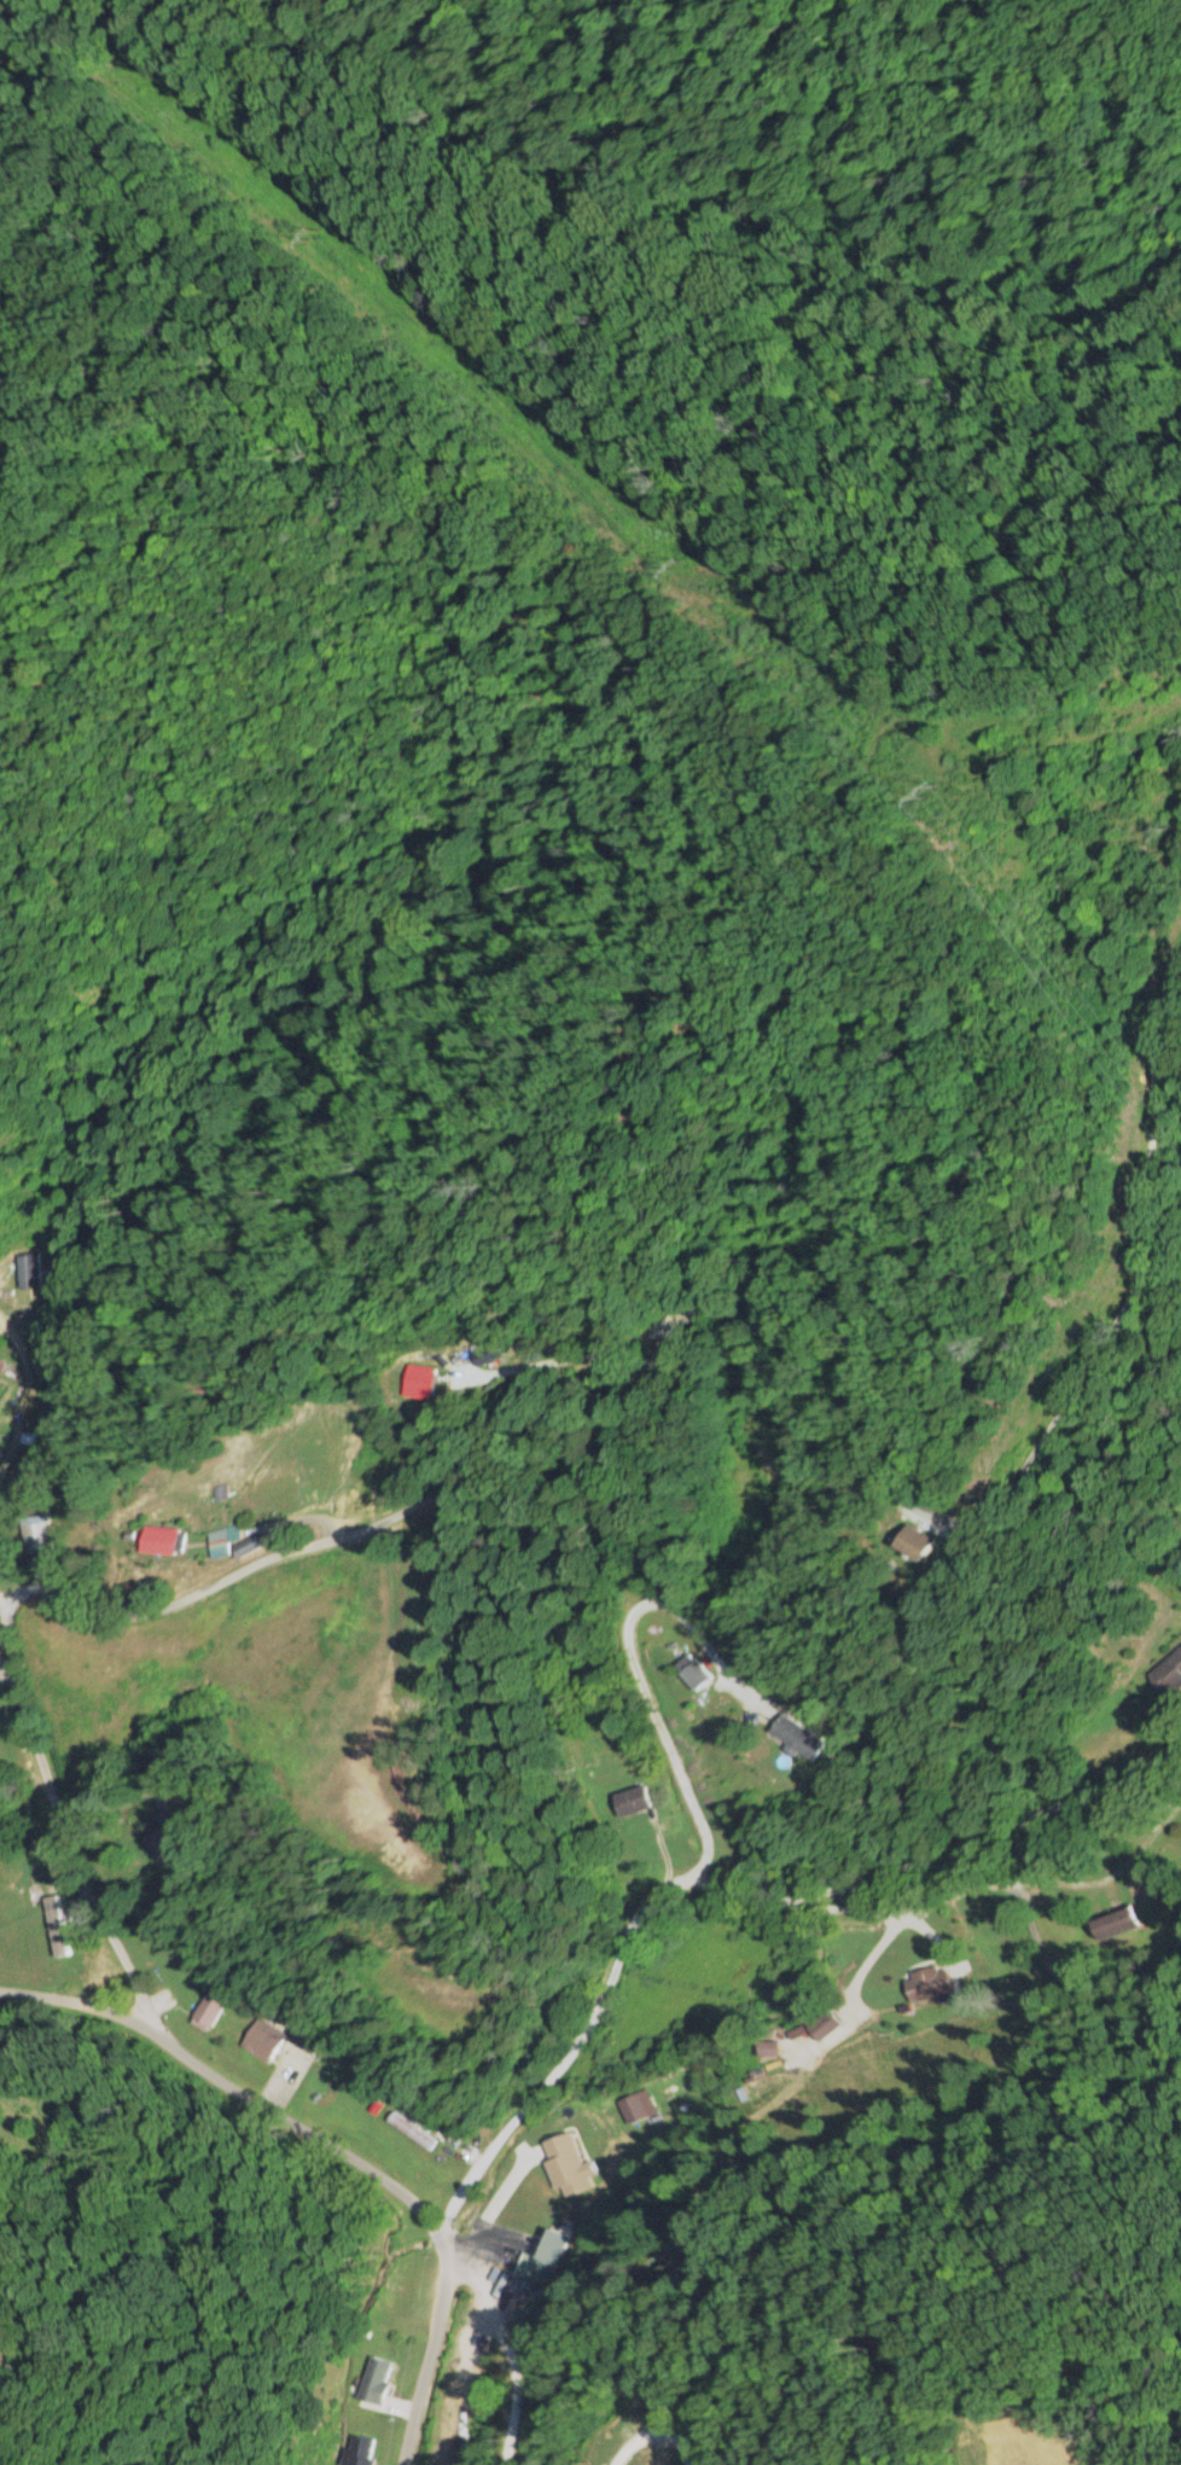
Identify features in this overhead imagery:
building: (28, 1269)
building: (476, 1358)
building: (412, 1382)
road: (553, 1418)
building: (31, 1531)
building: (151, 1540)
building: (222, 1541)
building: (903, 1542)
road: (639, 1661)
building: (691, 1669)
building: (1167, 1674)
building: (792, 1736)
building: (630, 1798)
road: (989, 1833)
building: (152, 1844)
road: (996, 1885)
building: (1113, 1923)
road: (610, 1952)
road: (865, 1960)
building: (927, 1983)
building: (204, 2012)
road: (71, 2017)
building: (819, 2025)
building: (275, 2037)
building: (408, 2129)
road: (396, 2188)
building: (518, 2210)
building: (542, 2257)
building: (373, 2379)
building: (359, 2451)

